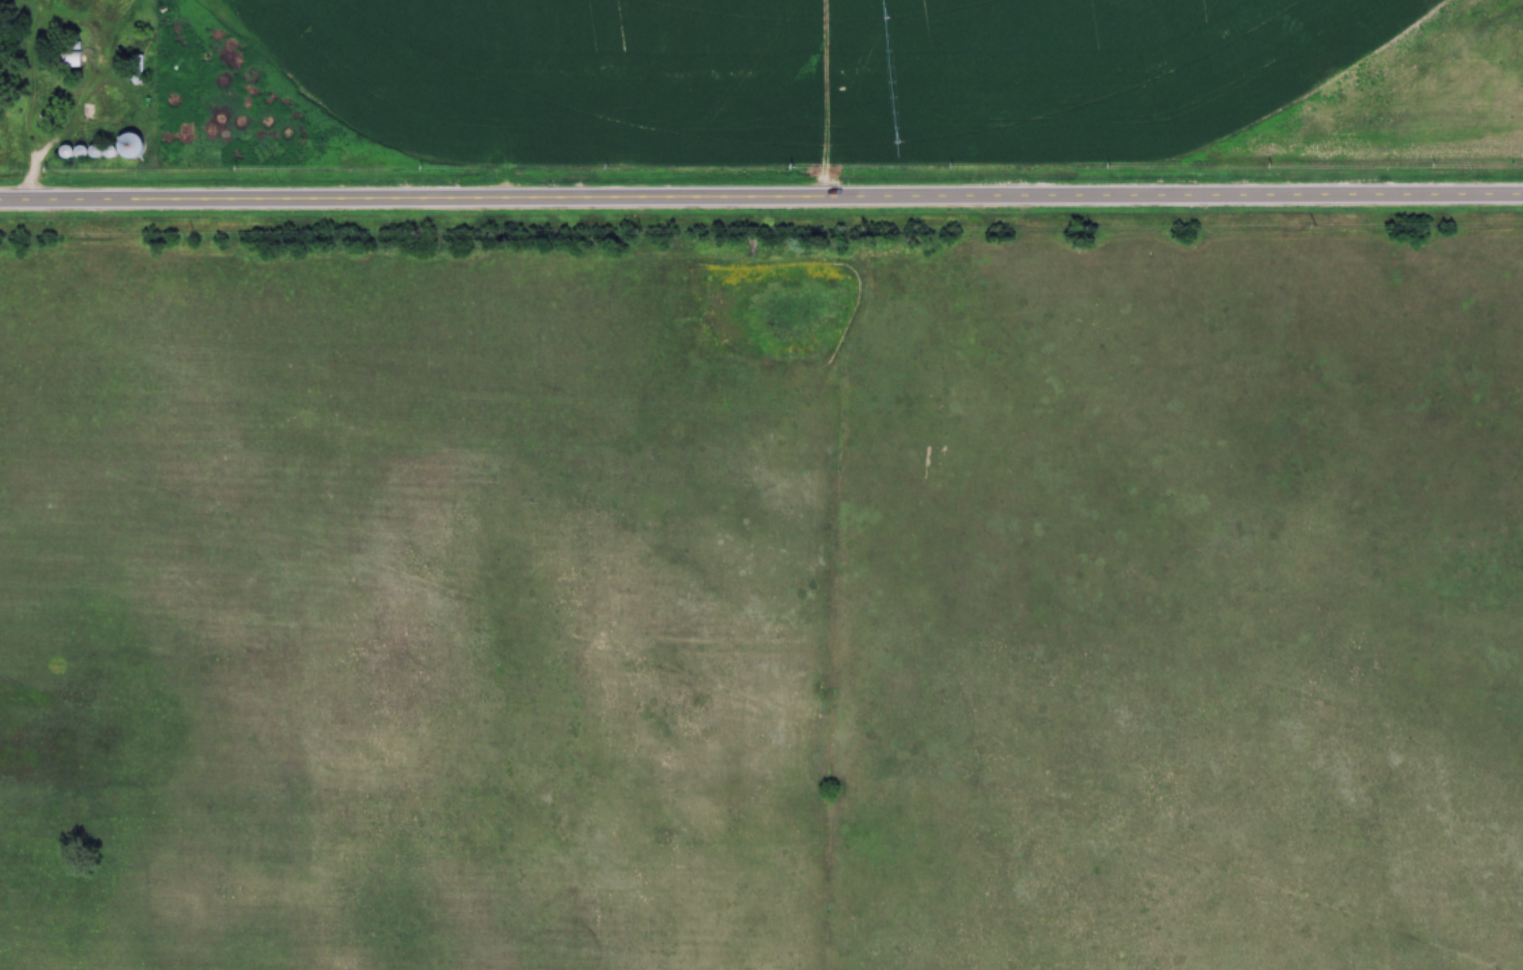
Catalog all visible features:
road: (40, 27)
building: (71, 59)
building: (139, 69)
building: (90, 112)
building: (134, 146)
building: (67, 152)
building: (97, 152)
road: (32, 180)
road: (761, 194)

